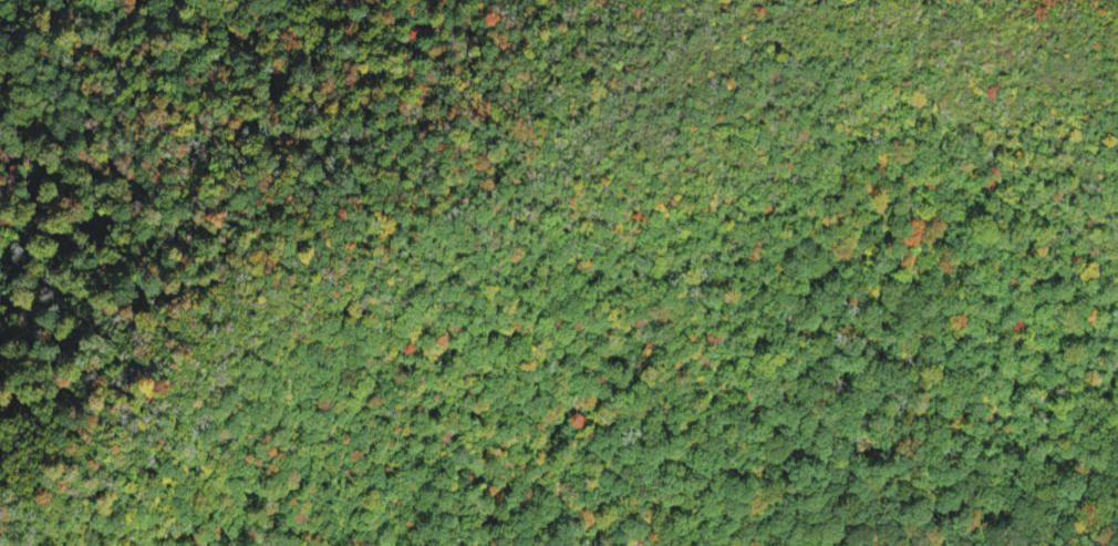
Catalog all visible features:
road: (652, 229)

